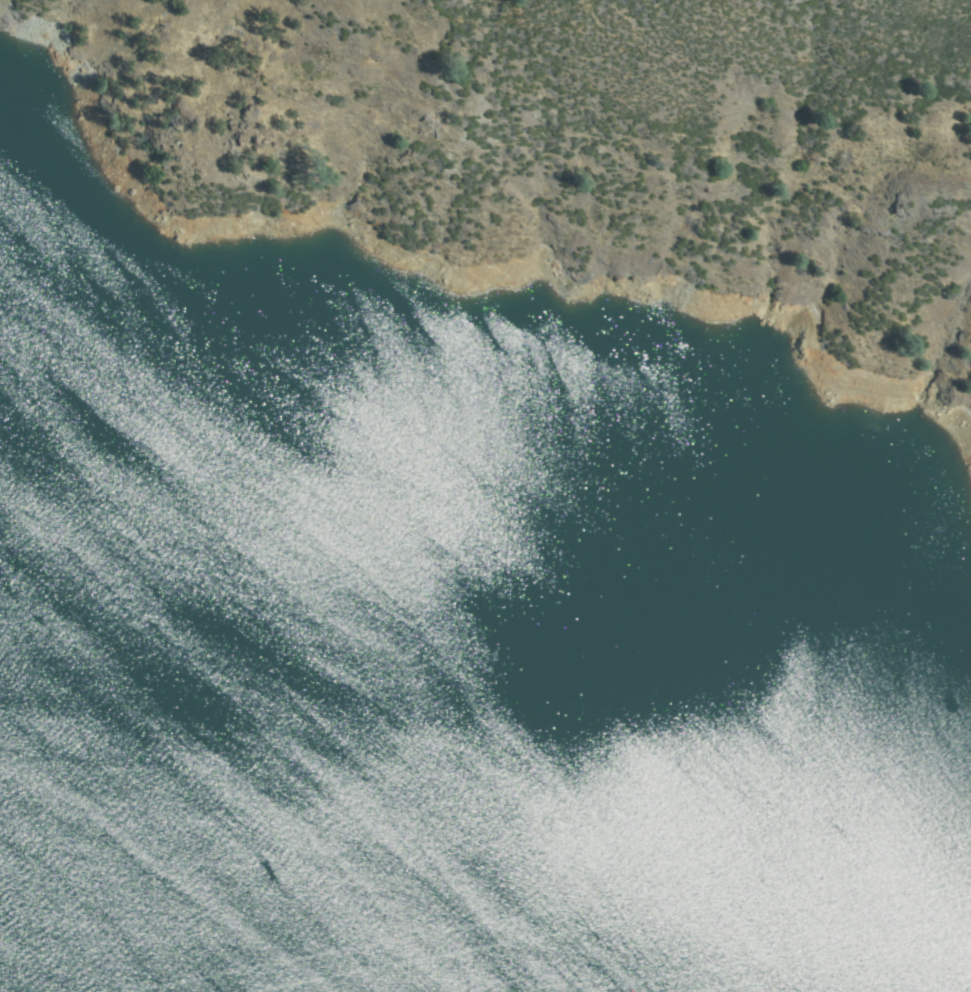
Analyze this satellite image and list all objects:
river: (257, 730)

